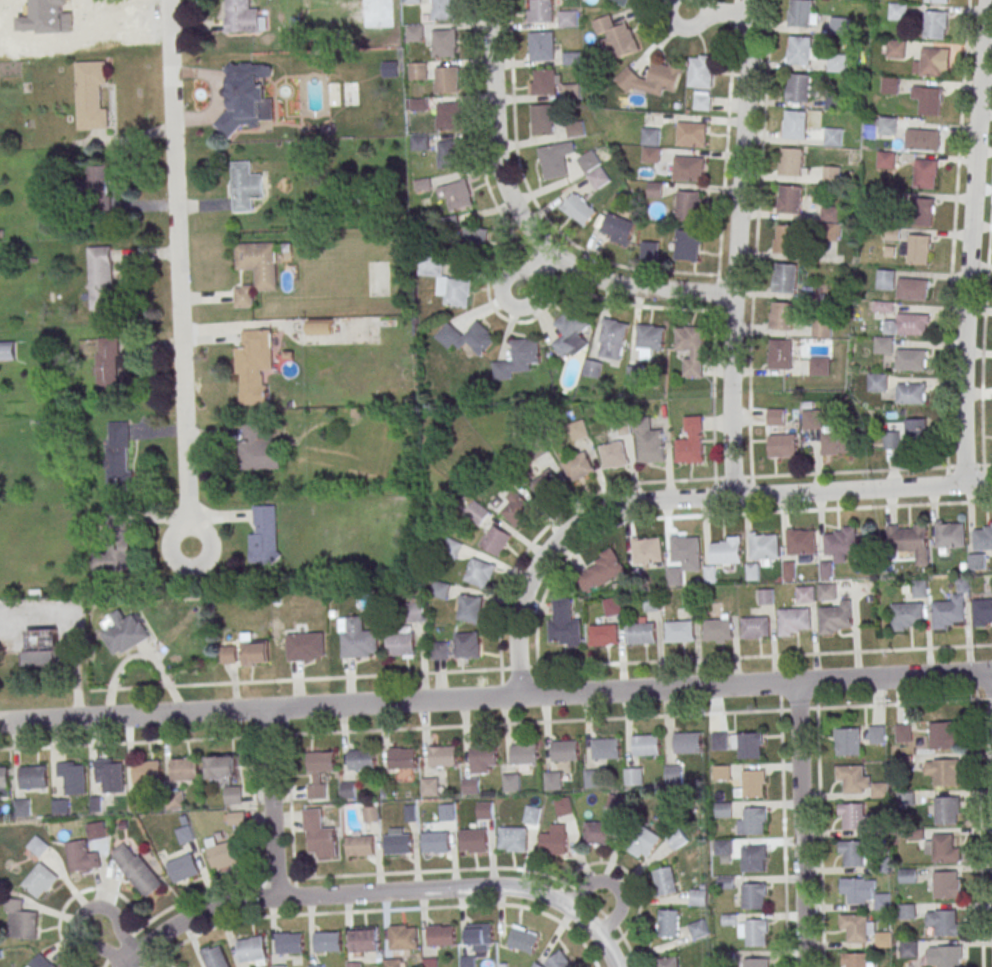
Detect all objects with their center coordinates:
building: (412, 1)
building: (622, 1)
building: (937, 1)
building: (445, 9)
building: (541, 10)
building: (898, 11)
building: (801, 13)
road: (718, 15)
building: (242, 16)
building: (569, 18)
building: (87, 19)
building: (936, 24)
building: (840, 26)
building: (415, 33)
building: (615, 36)
building: (445, 42)
building: (544, 45)
building: (896, 48)
building: (800, 50)
building: (934, 61)
building: (837, 63)
building: (418, 70)
building: (700, 70)
building: (448, 79)
building: (652, 79)
building: (546, 82)
building: (891, 85)
building: (799, 87)
building: (571, 89)
building: (92, 94)
building: (245, 95)
building: (702, 100)
building: (931, 100)
building: (419, 104)
building: (449, 115)
building: (543, 119)
building: (795, 124)
building: (888, 125)
building: (576, 128)
building: (691, 134)
building: (834, 136)
building: (922, 139)
building: (419, 142)
building: (650, 145)
building: (449, 154)
building: (555, 159)
building: (887, 159)
building: (589, 161)
building: (791, 161)
building: (688, 168)
building: (926, 173)
building: (832, 174)
building: (599, 177)
building: (98, 180)
building: (245, 186)
building: (653, 189)
building: (456, 195)
building: (790, 199)
building: (687, 206)
building: (579, 209)
building: (922, 211)
building: (830, 213)
road: (523, 222)
building: (617, 228)
building: (475, 238)
building: (787, 238)
road: (969, 241)
building: (687, 245)
road: (734, 248)
building: (919, 248)
building: (649, 250)
road: (951, 255)
building: (255, 269)
building: (426, 269)
road: (535, 271)
building: (102, 277)
building: (785, 278)
building: (886, 279)
road: (178, 283)
building: (912, 289)
building: (455, 290)
building: (781, 315)
building: (908, 324)
building: (320, 328)
building: (821, 328)
building: (571, 334)
building: (467, 337)
building: (612, 338)
building: (648, 341)
building: (882, 345)
building: (690, 349)
building: (7, 350)
building: (779, 354)
building: (518, 358)
building: (910, 359)
building: (108, 363)
building: (253, 364)
building: (818, 365)
building: (592, 368)
building: (877, 382)
building: (910, 393)
building: (775, 416)
building: (810, 419)
building: (578, 429)
building: (917, 430)
building: (892, 440)
building: (689, 441)
building: (835, 442)
building: (649, 443)
building: (783, 445)
building: (257, 449)
building: (613, 454)
building: (119, 456)
building: (578, 467)
building: (545, 484)
road: (685, 499)
building: (516, 508)
road: (758, 512)
building: (476, 513)
building: (949, 534)
building: (265, 535)
building: (982, 536)
building: (495, 540)
building: (909, 540)
building: (800, 541)
building: (843, 542)
building: (647, 549)
building: (724, 550)
building: (113, 556)
building: (978, 561)
building: (791, 569)
building: (827, 569)
building: (753, 570)
building: (600, 571)
building: (480, 572)
building: (675, 575)
building: (920, 588)
building: (440, 589)
building: (828, 592)
building: (807, 593)
building: (766, 596)
building: (691, 601)
building: (653, 602)
building: (612, 606)
building: (470, 608)
building: (415, 611)
building: (982, 611)
building: (947, 613)
building: (907, 615)
building: (835, 617)
building: (793, 620)
building: (564, 625)
building: (755, 626)
building: (717, 629)
building: (679, 631)
building: (124, 632)
building: (641, 632)
building: (603, 634)
building: (357, 638)
building: (401, 643)
building: (467, 644)
building: (305, 646)
building: (43, 649)
building: (253, 650)
building: (440, 650)
building: (228, 652)
road: (591, 664)
road: (495, 697)
road: (629, 716)
road: (266, 722)
building: (903, 733)
building: (877, 734)
building: (943, 735)
building: (720, 740)
building: (847, 741)
road: (133, 742)
building: (687, 742)
building: (646, 744)
building: (747, 745)
building: (606, 748)
building: (565, 750)
building: (524, 753)
building: (484, 755)
building: (443, 756)
building: (402, 757)
building: (362, 759)
building: (904, 763)
building: (221, 767)
building: (184, 768)
building: (146, 771)
building: (943, 771)
building: (319, 772)
building: (723, 772)
building: (109, 773)
building: (675, 773)
building: (634, 775)
building: (32, 776)
building: (71, 776)
building: (595, 778)
building: (554, 779)
building: (3, 781)
building: (512, 782)
building: (752, 784)
building: (431, 786)
building: (472, 786)
building: (349, 790)
building: (880, 790)
building: (233, 794)
building: (134, 800)
building: (60, 805)
building: (563, 806)
building: (21, 807)
building: (724, 809)
building: (485, 810)
building: (946, 810)
building: (449, 812)
building: (411, 813)
building: (372, 814)
building: (531, 814)
road: (272, 816)
building: (851, 816)
building: (235, 818)
building: (752, 821)
road: (802, 823)
building: (598, 832)
road: (979, 833)
building: (184, 834)
building: (318, 834)
road: (821, 837)
road: (784, 838)
building: (513, 839)
building: (677, 839)
building: (474, 840)
building: (554, 840)
building: (436, 842)
building: (399, 843)
building: (644, 844)
building: (360, 845)
building: (38, 846)
building: (725, 846)
building: (942, 848)
building: (222, 853)
building: (852, 853)
building: (82, 857)
building: (752, 859)
building: (882, 864)
building: (183, 868)
building: (136, 869)
road: (377, 873)
building: (908, 875)
building: (40, 880)
building: (665, 881)
road: (613, 884)
building: (947, 884)
road: (369, 893)
building: (753, 896)
building: (698, 897)
road: (552, 899)
building: (883, 901)
road: (380, 910)
building: (907, 911)
road: (82, 912)
road: (194, 916)
building: (20, 921)
building: (943, 922)
building: (668, 923)
building: (856, 927)
building: (698, 929)
building: (479, 933)
building: (756, 933)
building: (441, 935)
building: (404, 938)
building: (523, 939)
building: (366, 940)
building: (327, 941)
building: (289, 942)
building: (908, 949)
building: (250, 950)
building: (214, 956)
building: (948, 956)
building: (560, 960)
building: (856, 960)
building: (467, 961)
building: (40, 962)
building: (392, 962)
building: (667, 962)
building: (756, 962)
building: (353, 964)
building: (181, 966)
building: (278, 966)
building: (315, 966)

